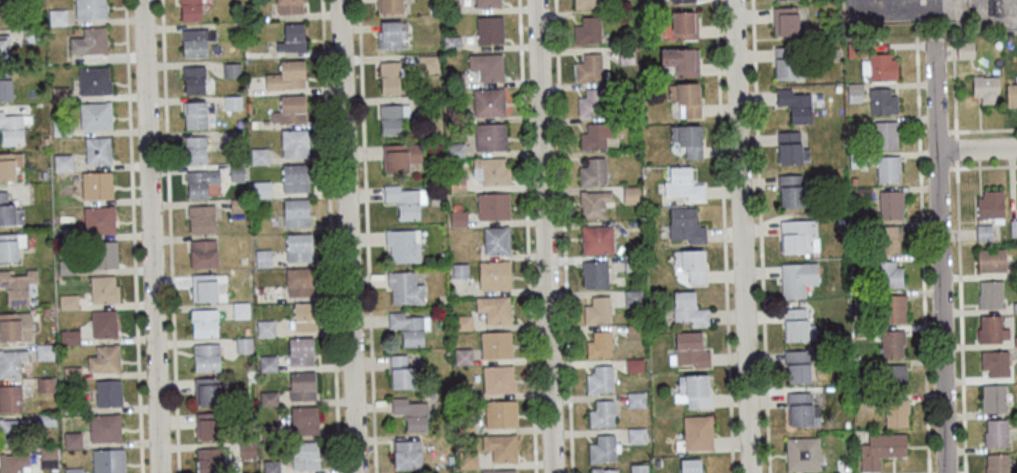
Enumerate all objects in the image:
building: (681, 0)
road: (889, 1)
building: (487, 2)
building: (586, 3)
building: (289, 6)
building: (389, 6)
building: (451, 7)
building: (88, 9)
building: (190, 9)
road: (996, 12)
building: (2, 13)
building: (56, 17)
building: (785, 21)
building: (685, 25)
building: (489, 29)
building: (588, 30)
building: (73, 31)
building: (391, 33)
building: (29, 35)
building: (292, 37)
building: (88, 42)
building: (196, 42)
building: (451, 42)
road: (924, 45)
building: (3, 47)
building: (856, 49)
building: (963, 50)
building: (835, 51)
road: (943, 52)
building: (626, 56)
building: (682, 60)
building: (427, 63)
building: (788, 63)
building: (487, 66)
building: (882, 66)
building: (588, 67)
building: (230, 70)
building: (286, 75)
building: (390, 77)
building: (193, 79)
building: (455, 79)
building: (93, 80)
building: (4, 87)
building: (625, 88)
building: (837, 88)
building: (984, 89)
building: (854, 91)
building: (59, 94)
road: (953, 95)
building: (1010, 95)
building: (686, 98)
building: (488, 101)
building: (591, 101)
building: (882, 101)
building: (232, 102)
building: (795, 104)
building: (429, 106)
building: (290, 110)
building: (195, 114)
building: (455, 114)
building: (95, 115)
building: (392, 118)
building: (635, 120)
building: (643, 120)
building: (849, 122)
building: (254, 124)
building: (61, 127)
building: (12, 128)
road: (982, 129)
road: (941, 131)
building: (886, 134)
building: (490, 136)
building: (595, 136)
building: (688, 139)
building: (44, 140)
building: (232, 140)
building: (294, 143)
building: (790, 148)
building: (195, 149)
road: (955, 149)
building: (97, 150)
building: (455, 150)
road: (976, 150)
building: (399, 155)
building: (259, 156)
building: (856, 159)
building: (62, 162)
building: (9, 164)
road: (982, 167)
building: (887, 168)
building: (491, 170)
road: (937, 170)
building: (593, 171)
building: (235, 173)
road: (923, 173)
building: (43, 174)
building: (295, 178)
building: (200, 182)
building: (457, 183)
building: (683, 184)
building: (96, 185)
building: (261, 189)
building: (792, 191)
building: (861, 193)
building: (630, 194)
building: (405, 200)
building: (594, 203)
building: (890, 203)
building: (237, 205)
building: (493, 205)
building: (990, 205)
building: (8, 212)
building: (296, 212)
building: (458, 218)
building: (98, 219)
building: (201, 219)
building: (839, 219)
building: (685, 225)
building: (1013, 227)
building: (983, 232)
road: (132, 236)
road: (150, 236)
road: (168, 236)
road: (329, 236)
road: (348, 236)
road: (366, 236)
road: (526, 236)
road: (545, 236)
road: (563, 236)
road: (724, 236)
road: (741, 236)
road: (760, 236)
building: (798, 236)
building: (889, 238)
building: (597, 239)
building: (497, 240)
building: (10, 245)
building: (403, 245)
building: (299, 247)
building: (202, 253)
building: (104, 254)
road: (940, 254)
building: (263, 258)
building: (652, 258)
road: (922, 258)
building: (991, 259)
building: (632, 262)
building: (691, 264)
building: (65, 266)
building: (459, 270)
building: (1014, 270)
building: (887, 273)
building: (494, 274)
building: (595, 274)
building: (797, 278)
building: (854, 278)
building: (299, 281)
building: (17, 285)
building: (203, 287)
building: (405, 287)
building: (103, 288)
building: (259, 290)
building: (990, 294)
building: (633, 298)
building: (862, 300)
building: (68, 301)
building: (1014, 306)
building: (893, 307)
building: (688, 308)
building: (493, 309)
building: (240, 310)
building: (597, 310)
building: (45, 311)
building: (304, 316)
road: (960, 316)
building: (204, 322)
building: (463, 322)
building: (103, 323)
building: (797, 324)
building: (15, 326)
building: (409, 327)
building: (266, 328)
building: (990, 329)
building: (246, 330)
building: (863, 330)
building: (634, 331)
building: (69, 336)
building: (1015, 341)
building: (892, 343)
building: (496, 344)
building: (243, 345)
building: (599, 345)
building: (691, 349)
building: (44, 351)
building: (300, 351)
building: (463, 356)
building: (206, 357)
building: (855, 357)
building: (104, 358)
building: (11, 362)
building: (994, 362)
building: (267, 363)
building: (634, 365)
building: (797, 365)
building: (71, 372)
building: (401, 372)
building: (498, 378)
building: (895, 378)
building: (600, 379)
building: (45, 384)
building: (302, 386)
building: (206, 391)
building: (464, 391)
building: (693, 391)
building: (108, 392)
building: (993, 397)
building: (10, 398)
building: (269, 399)
building: (635, 399)
building: (862, 402)
building: (71, 407)
building: (801, 409)
building: (896, 411)
building: (410, 413)
building: (500, 413)
building: (602, 413)
building: (45, 419)
building: (304, 420)
building: (846, 424)
building: (206, 425)
building: (104, 427)
building: (465, 427)
building: (11, 430)
building: (270, 432)
building: (696, 433)
building: (995, 433)
building: (636, 435)
building: (72, 440)
building: (500, 447)
building: (246, 449)
building: (602, 449)
building: (881, 449)
building: (802, 453)
building: (407, 454)
building: (304, 455)
building: (47, 456)
building: (467, 459)
building: (209, 460)
building: (108, 461)
building: (449, 461)
building: (14, 463)
building: (996, 463)
building: (270, 466)
building: (690, 466)
building: (638, 468)
building: (73, 470)
building: (602, 470)
building: (499, 471)

